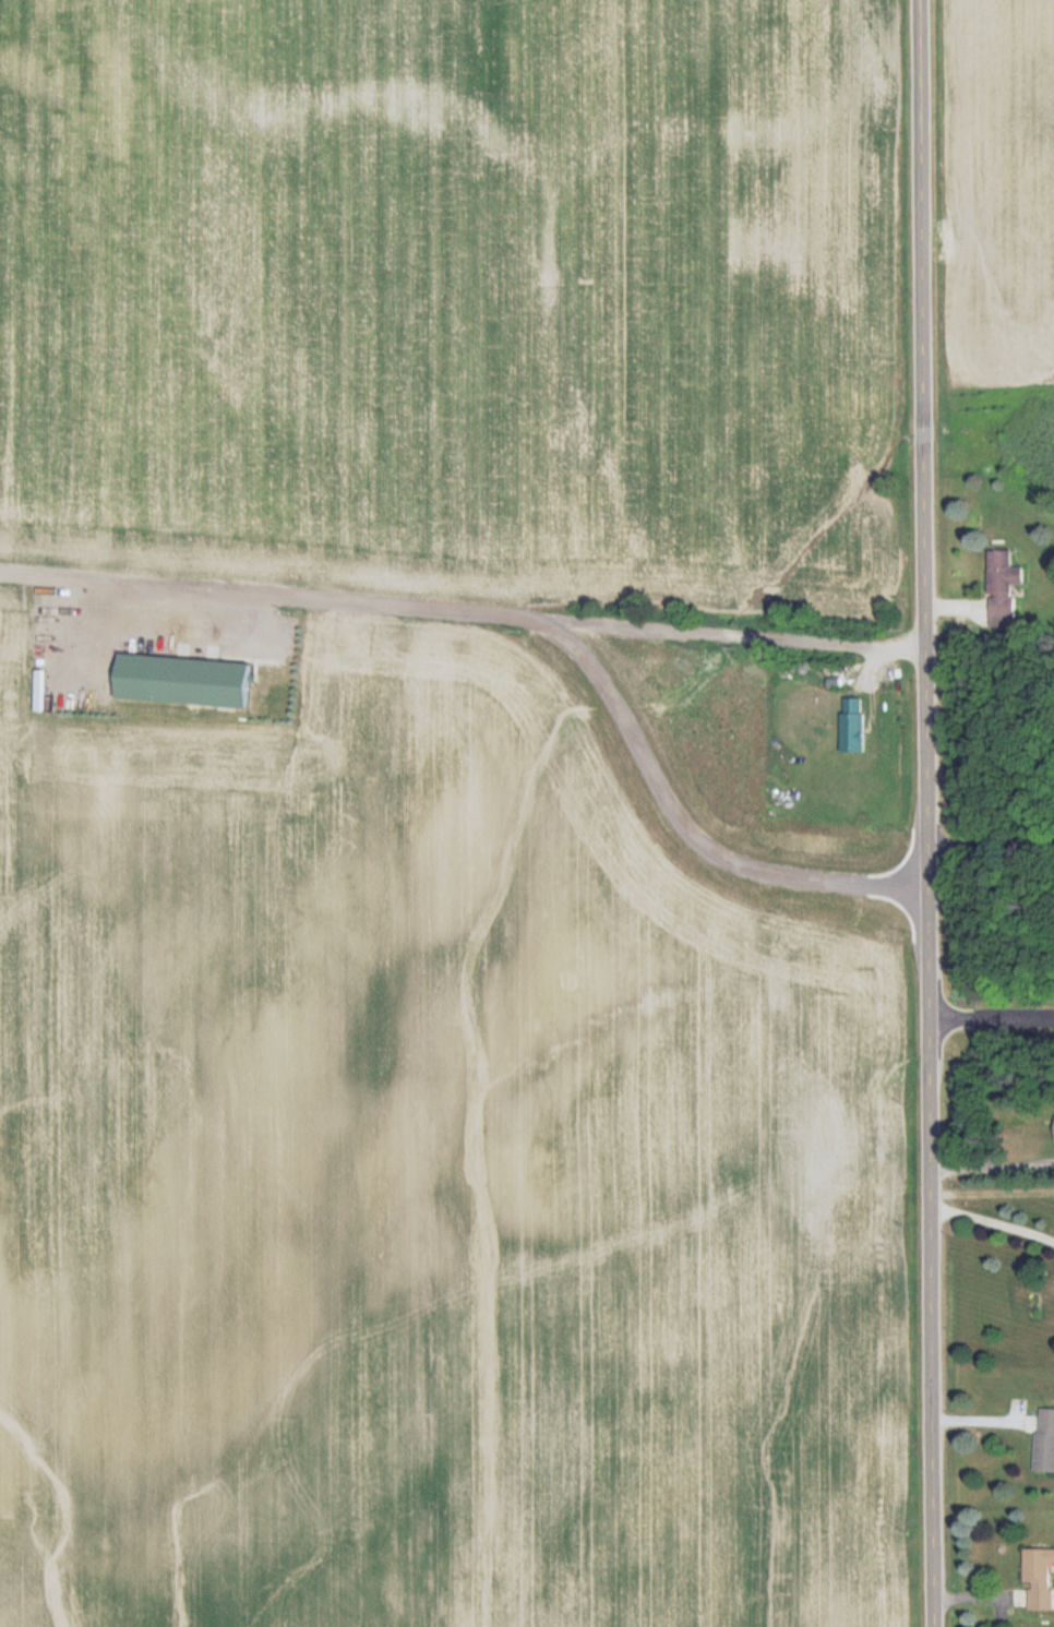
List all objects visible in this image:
building: (1003, 588)
road: (463, 593)
building: (852, 725)
road: (927, 813)
road: (992, 1016)
road: (992, 1165)
road: (992, 1189)
road: (993, 1219)
building: (1045, 1441)
building: (1040, 1579)

